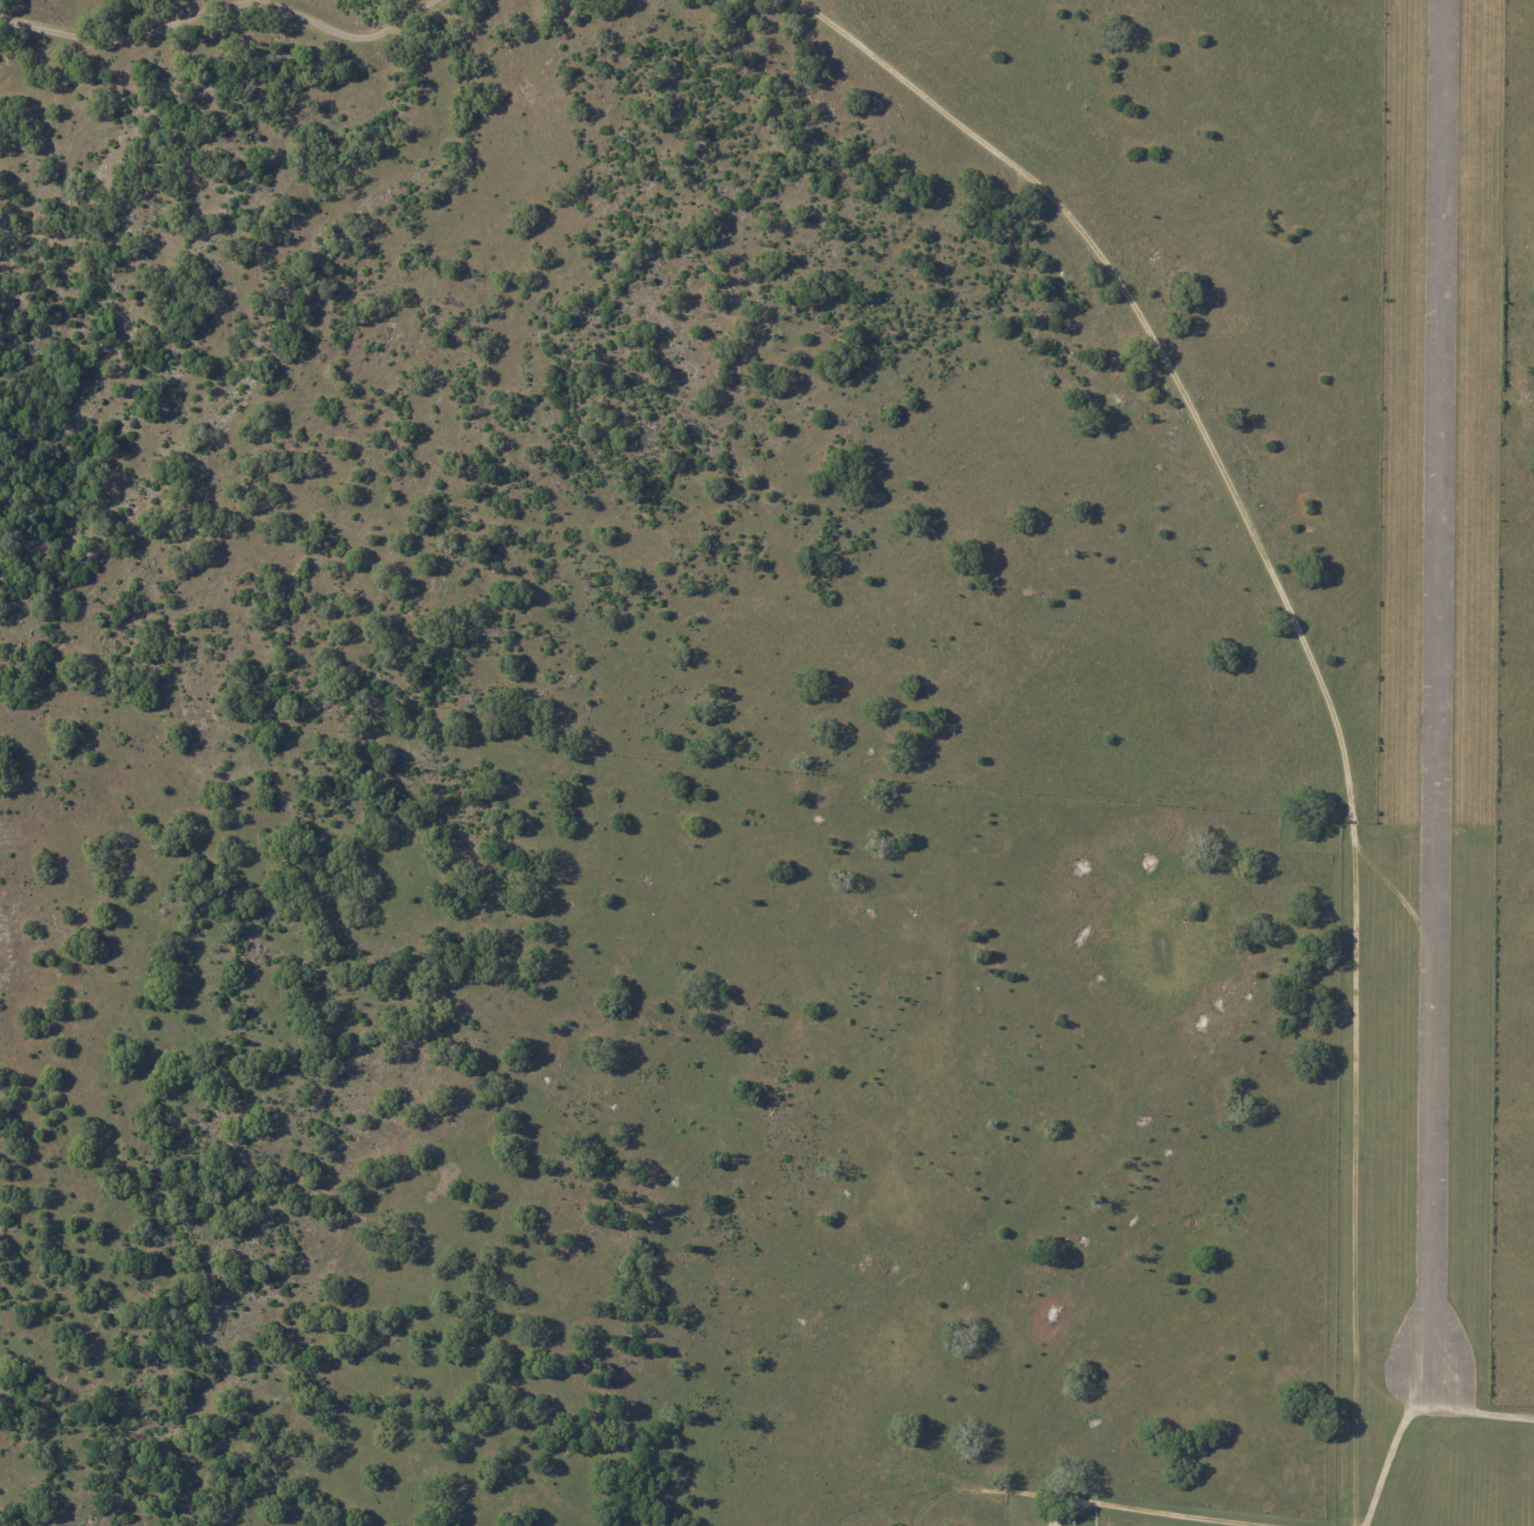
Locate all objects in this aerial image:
airport runway: (1433, 698)
road: (1410, 1413)
road: (1147, 1510)
building: (1071, 1519)

